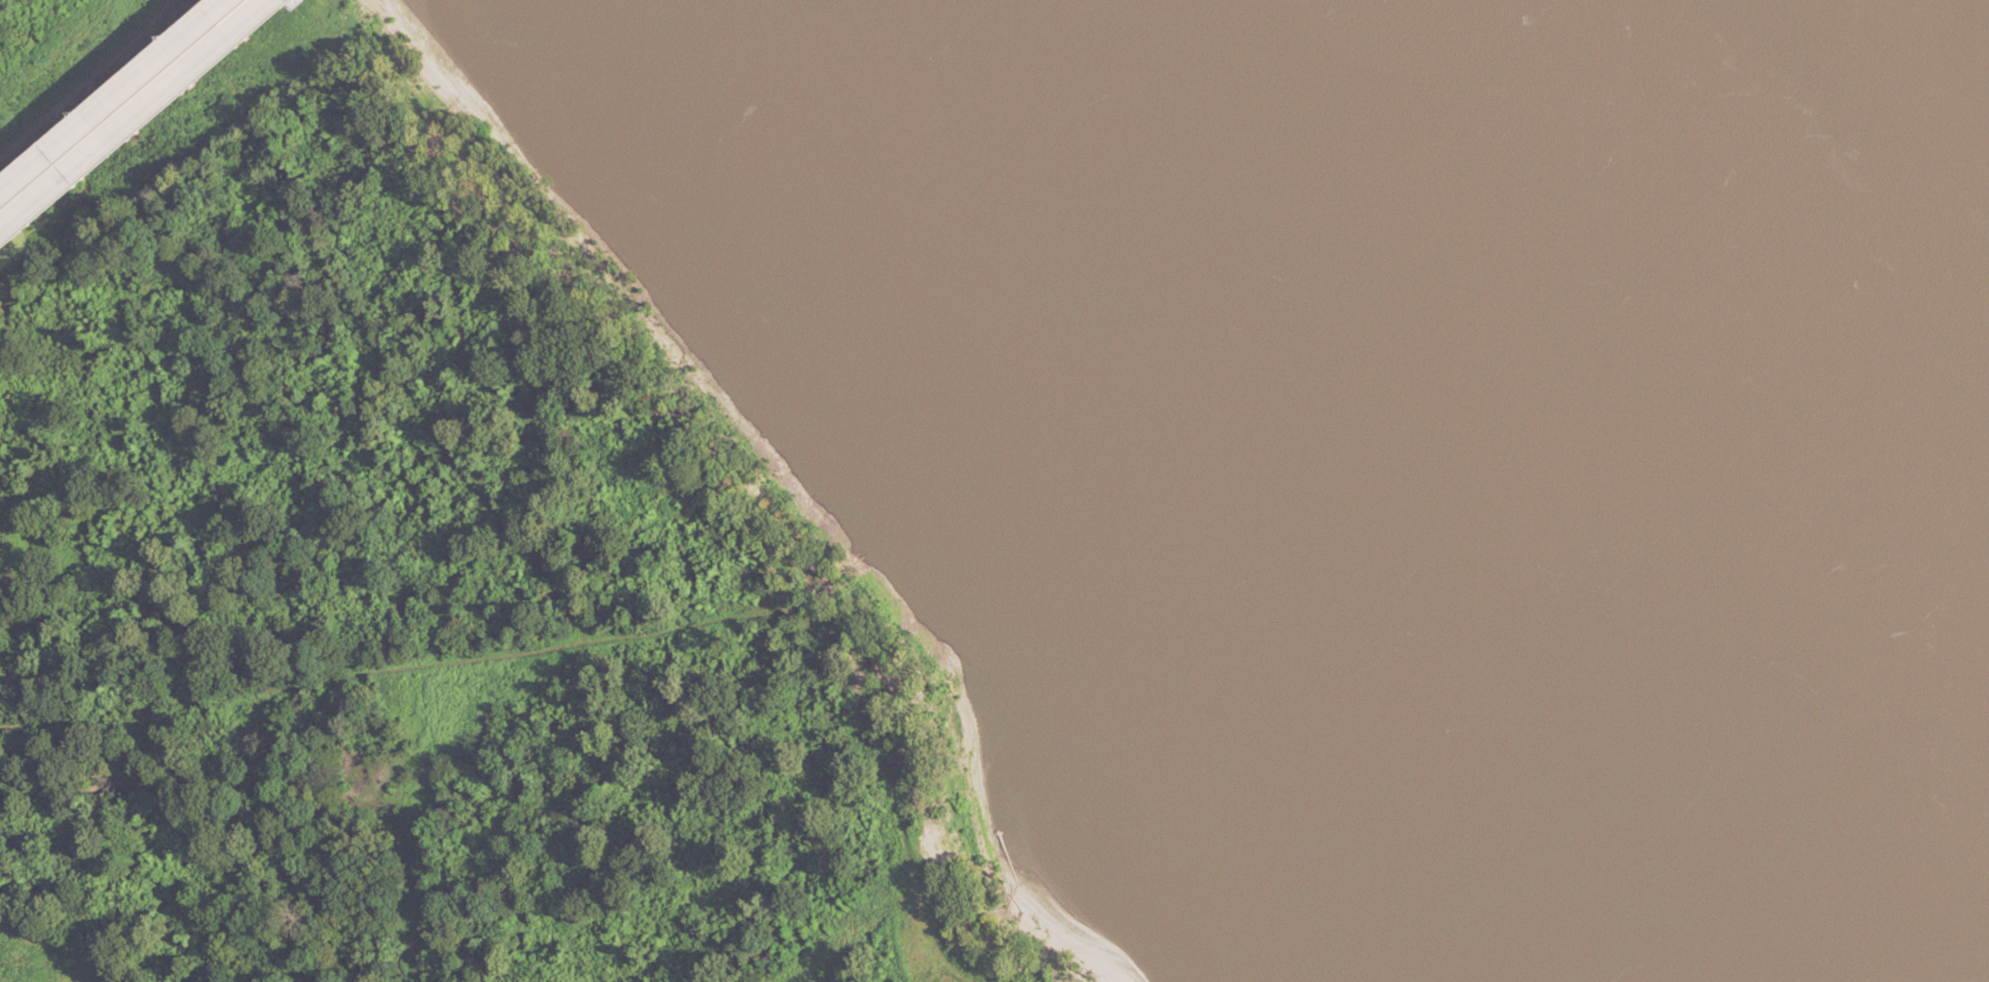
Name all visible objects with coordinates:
building: (206, 49)
road: (118, 102)
road: (139, 120)
building: (17, 226)
river: (1788, 228)
road: (382, 662)

